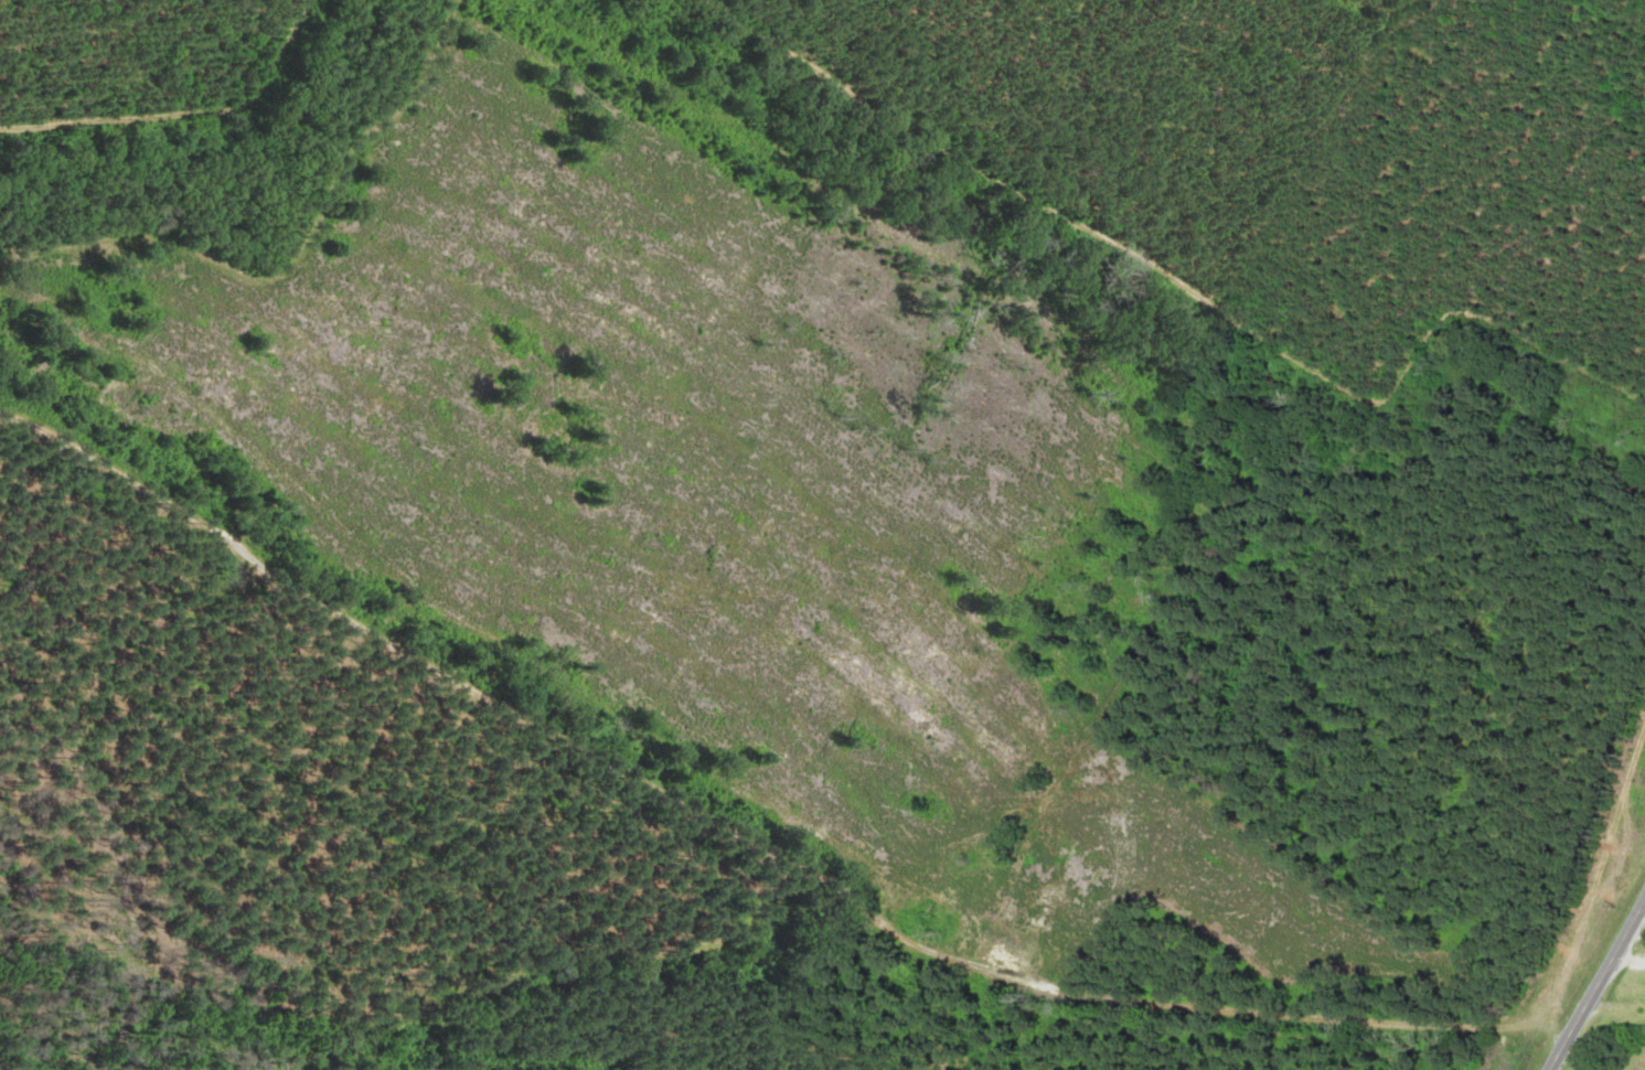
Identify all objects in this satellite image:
road: (1598, 984)

